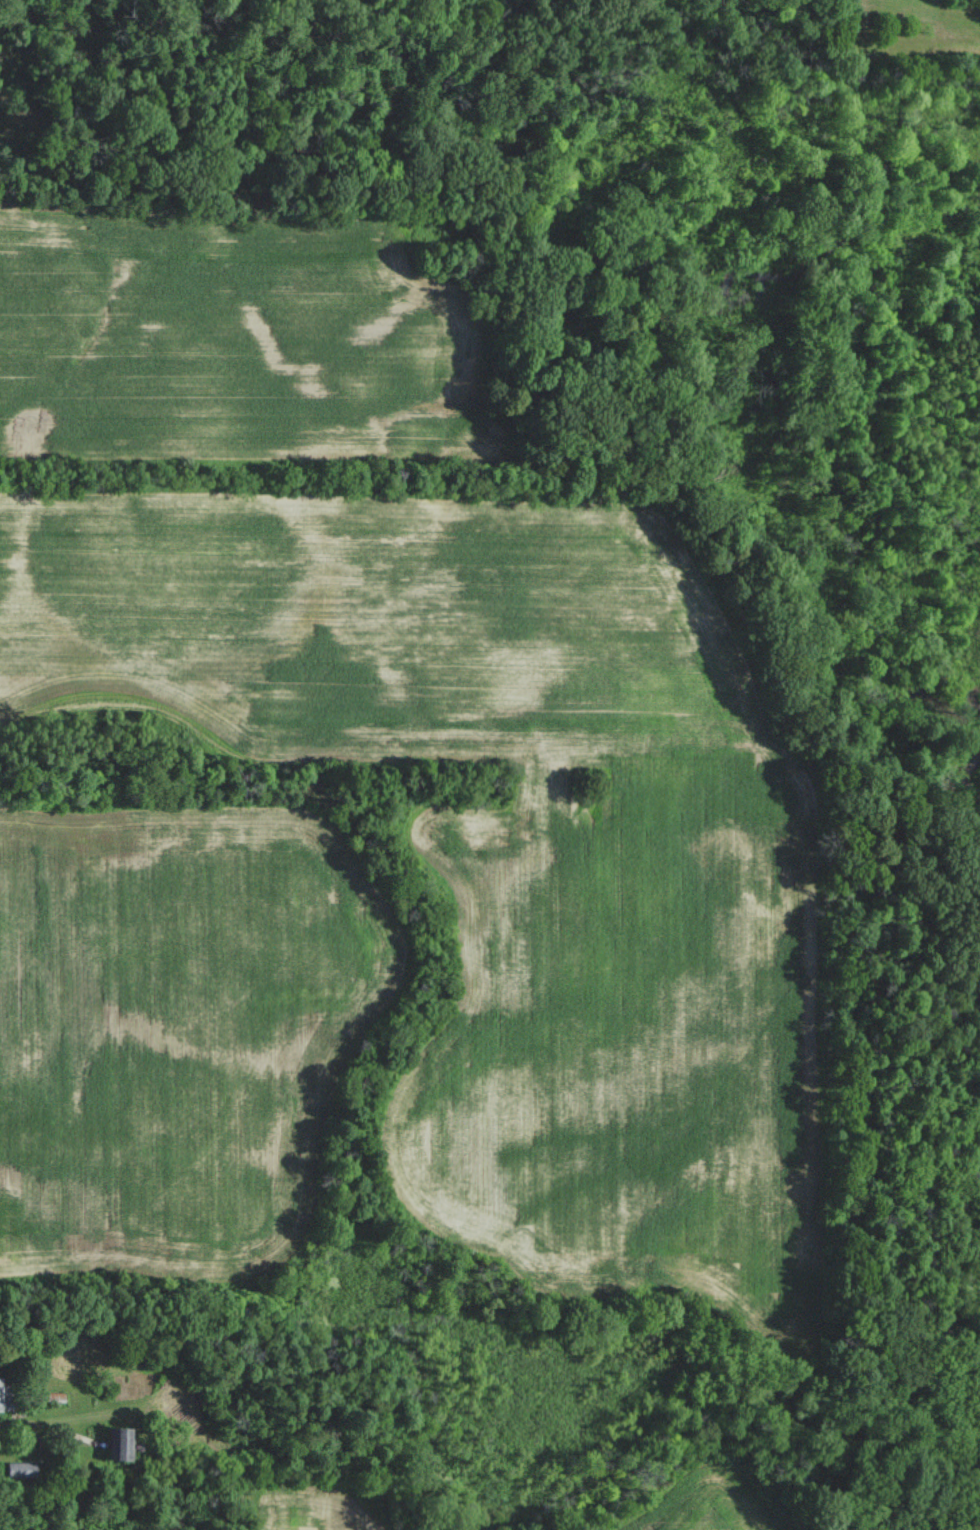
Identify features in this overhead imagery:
building: (3, 1395)
building: (116, 1443)
building: (15, 1469)

